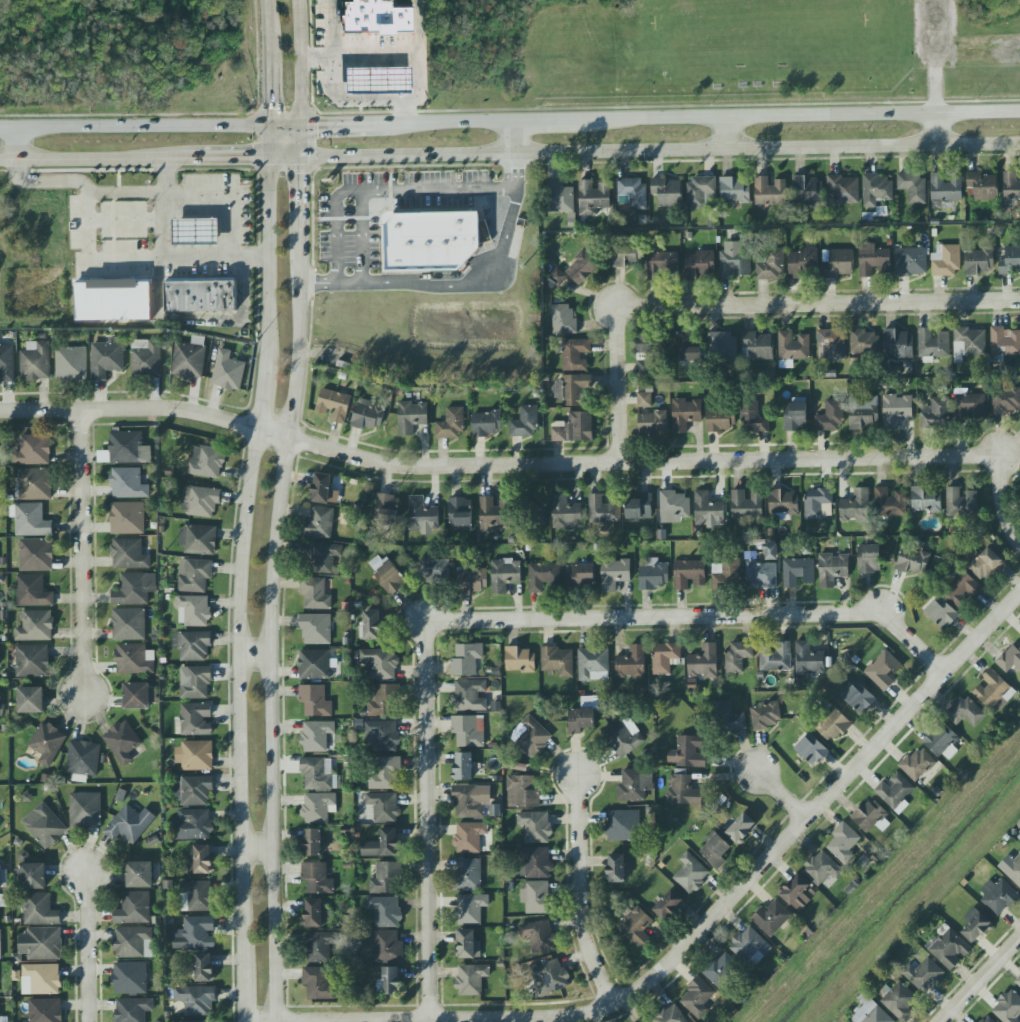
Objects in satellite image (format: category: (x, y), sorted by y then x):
park: (999, 6)
park: (468, 16)
building: (375, 17)
road: (268, 28)
road: (329, 28)
road: (417, 31)
road: (392, 56)
road: (303, 61)
building: (377, 81)
road: (271, 89)
road: (932, 95)
traffic signals: (272, 109)
road: (797, 120)
road: (288, 123)
traffic signals: (318, 123)
road: (354, 123)
road: (459, 123)
road: (544, 123)
road: (136, 126)
road: (938, 131)
road: (733, 136)
road: (515, 139)
road: (273, 142)
road: (303, 142)
road: (13, 146)
road: (661, 152)
road: (232, 162)
traffic signals: (253, 162)
road: (81, 163)
road: (347, 167)
road: (285, 169)
road: (125, 170)
road: (516, 171)
traffic signals: (302, 174)
building: (1011, 185)
building: (983, 186)
road: (83, 187)
road: (441, 187)
building: (913, 187)
building: (945, 187)
road: (301, 189)
building: (844, 189)
building: (735, 190)
building: (875, 190)
building: (667, 191)
building: (770, 191)
building: (807, 191)
building: (633, 192)
building: (701, 192)
road: (225, 195)
building: (560, 197)
building: (593, 197)
road: (338, 224)
building: (196, 232)
road: (362, 235)
building: (430, 241)
road: (171, 255)
building: (625, 255)
road: (91, 258)
building: (734, 261)
building: (873, 261)
building: (945, 261)
building: (979, 261)
building: (1010, 261)
building: (911, 262)
building: (804, 263)
building: (838, 263)
road: (272, 264)
building: (771, 264)
building: (663, 266)
building: (699, 266)
building: (581, 268)
building: (556, 279)
road: (319, 280)
road: (351, 281)
road: (478, 282)
building: (200, 295)
building: (113, 301)
road: (742, 306)
building: (563, 319)
building: (863, 341)
building: (1004, 341)
building: (933, 343)
building: (898, 344)
building: (968, 344)
building: (831, 345)
building: (757, 346)
building: (721, 347)
building: (690, 348)
building: (792, 348)
building: (576, 354)
building: (644, 354)
building: (106, 358)
building: (146, 358)
building: (188, 360)
building: (35, 361)
building: (6, 363)
building: (71, 364)
building: (228, 371)
building: (572, 390)
road: (262, 399)
building: (644, 400)
building: (1006, 400)
building: (333, 405)
road: (129, 407)
building: (969, 407)
building: (896, 410)
building: (863, 412)
building: (685, 414)
building: (935, 414)
building: (368, 415)
building: (795, 416)
building: (411, 417)
building: (830, 417)
building: (753, 418)
building: (720, 419)
building: (652, 422)
building: (486, 423)
building: (524, 423)
building: (450, 424)
building: (573, 428)
building: (128, 448)
building: (33, 451)
building: (206, 461)
road: (628, 463)
building: (128, 483)
building: (33, 484)
building: (323, 489)
road: (1007, 499)
building: (926, 500)
building: (200, 501)
building: (784, 502)
building: (816, 502)
building: (889, 502)
building: (961, 502)
building: (746, 505)
building: (856, 506)
building: (639, 507)
building: (674, 507)
building: (386, 509)
building: (603, 509)
building: (707, 509)
building: (538, 510)
building: (565, 513)
building: (459, 514)
building: (493, 514)
building: (423, 517)
building: (127, 518)
building: (30, 520)
building: (320, 523)
building: (198, 539)
road: (91, 548)
building: (771, 551)
building: (128, 554)
building: (35, 555)
building: (323, 557)
building: (869, 559)
building: (913, 561)
building: (985, 564)
building: (832, 569)
building: (434, 570)
building: (798, 572)
building: (386, 574)
building: (614, 574)
building: (653, 574)
building: (689, 574)
building: (761, 574)
building: (194, 575)
building: (504, 575)
building: (583, 575)
building: (543, 576)
building: (472, 582)
building: (135, 589)
building: (961, 589)
building: (32, 591)
building: (315, 593)
building: (193, 611)
building: (941, 612)
road: (696, 614)
road: (269, 618)
building: (128, 624)
building: (371, 625)
building: (35, 626)
building: (315, 628)
building: (192, 645)
road: (255, 654)
building: (738, 656)
building: (664, 657)
building: (776, 657)
building: (134, 659)
building: (466, 659)
building: (519, 660)
building: (809, 660)
building: (32, 661)
building: (558, 661)
building: (704, 662)
building: (380, 663)
building: (631, 663)
building: (593, 664)
building: (314, 665)
building: (884, 670)
building: (195, 682)
building: (993, 691)
building: (470, 695)
building: (139, 696)
road: (243, 697)
building: (859, 698)
building: (31, 700)
building: (380, 700)
building: (315, 701)
building: (1, 702)
building: (965, 712)
building: (766, 715)
building: (729, 717)
building: (196, 719)
building: (580, 720)
building: (833, 725)
building: (468, 731)
building: (380, 735)
building: (316, 736)
building: (531, 737)
building: (624, 740)
building: (122, 742)
building: (942, 742)
building: (47, 743)
building: (812, 750)
building: (687, 752)
building: (194, 756)
building: (83, 760)
building: (918, 764)
building: (463, 766)
building: (384, 772)
building: (317, 774)
building: (634, 785)
building: (194, 790)
building: (683, 791)
building: (522, 792)
building: (895, 793)
road: (779, 797)
building: (470, 800)
building: (383, 806)
building: (318, 807)
building: (85, 809)
building: (872, 817)
road: (429, 820)
building: (129, 824)
building: (193, 824)
building: (622, 825)
building: (44, 826)
building: (535, 827)
building: (741, 828)
building: (469, 837)
building: (312, 842)
building: (843, 842)
building: (382, 845)
road: (260, 848)
building: (716, 851)
building: (200, 860)
building: (534, 863)
building: (616, 868)
building: (821, 868)
building: (1014, 871)
building: (690, 873)
building: (139, 874)
building: (468, 874)
building: (33, 876)
building: (0, 877)
building: (316, 878)
building: (385, 878)
road: (583, 891)
building: (796, 893)
building: (194, 896)
building: (535, 897)
building: (999, 897)
building: (2, 900)
building: (668, 904)
building: (133, 908)
building: (471, 909)
building: (40, 910)
building: (385, 911)
building: (314, 913)
building: (771, 918)
building: (975, 925)
building: (636, 927)
building: (196, 934)
building: (539, 936)
road: (695, 939)
road: (88, 942)
building: (133, 943)
building: (41, 944)
building: (468, 945)
building: (0, 946)
building: (318, 947)
building: (750, 947)
building: (388, 948)
building: (950, 948)
building: (204, 967)
building: (722, 971)
building: (924, 975)
building: (549, 977)
building: (130, 978)
building: (41, 979)
building: (471, 979)
building: (389, 981)
building: (1018, 981)
building: (317, 983)
road: (983, 983)
road: (245, 993)
building: (697, 998)
building: (196, 999)
building: (898, 1000)
building: (1008, 1007)
building: (132, 1009)
building: (45, 1010)
building: (871, 1014)
building: (670, 1015)
building: (985, 1019)
building: (199, 1021)
building: (643, 1021)

